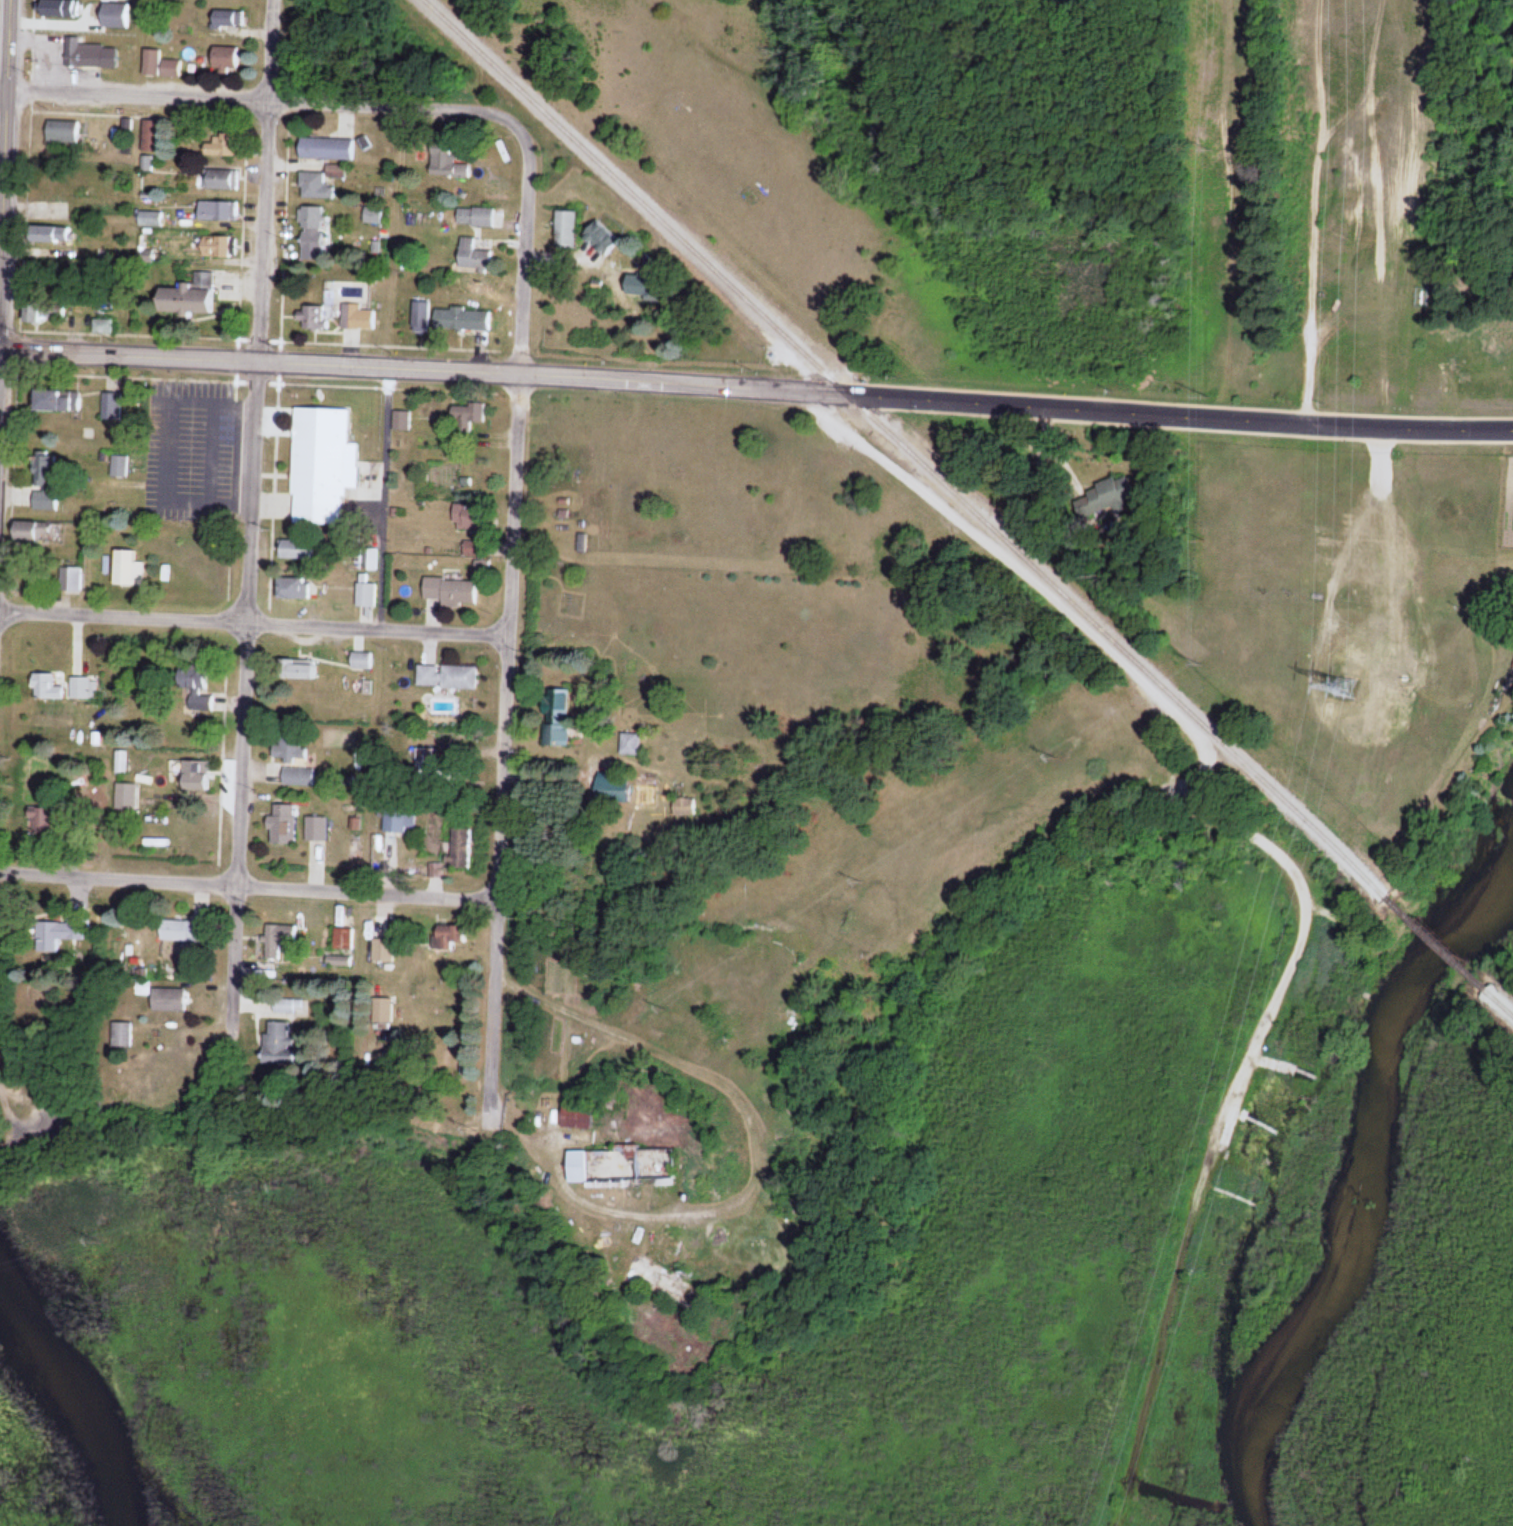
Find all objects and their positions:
building: (57, 8)
building: (224, 22)
building: (89, 55)
building: (223, 58)
building: (158, 65)
road: (260, 105)
building: (61, 132)
building: (149, 136)
road: (6, 142)
building: (219, 146)
building: (325, 149)
building: (446, 165)
building: (335, 172)
building: (219, 180)
building: (314, 187)
building: (491, 187)
building: (217, 212)
road: (1376, 214)
building: (371, 216)
building: (474, 218)
building: (310, 222)
building: (563, 230)
building: (48, 235)
building: (217, 247)
building: (472, 256)
building: (187, 297)
building: (39, 313)
building: (353, 317)
building: (312, 318)
building: (460, 320)
building: (102, 327)
road: (259, 360)
building: (56, 401)
road: (1015, 405)
building: (109, 407)
building: (467, 413)
building: (401, 421)
railway: (905, 448)
building: (321, 466)
building: (119, 467)
building: (45, 481)
building: (1103, 497)
road: (386, 499)
building: (464, 518)
road: (248, 527)
building: (33, 533)
building: (295, 550)
building: (127, 570)
building: (70, 580)
building: (293, 589)
building: (449, 592)
building: (365, 596)
road: (251, 626)
road: (502, 641)
building: (360, 662)
building: (296, 671)
building: (446, 678)
building: (46, 688)
building: (84, 689)
power tower: (1344, 691)
building: (555, 718)
building: (629, 745)
building: (195, 777)
building: (609, 790)
building: (126, 797)
building: (683, 808)
building: (398, 821)
building: (40, 823)
building: (282, 826)
building: (315, 830)
building: (459, 849)
road: (244, 892)
building: (177, 931)
building: (59, 937)
building: (448, 938)
building: (277, 940)
building: (342, 940)
railway: (1437, 945)
building: (382, 951)
building: (339, 961)
building: (167, 1001)
railway: (1500, 1004)
building: (289, 1008)
building: (383, 1011)
building: (120, 1036)
building: (276, 1045)
building: (575, 1118)
building: (620, 1169)
river: (1368, 1185)
river: (72, 1403)

